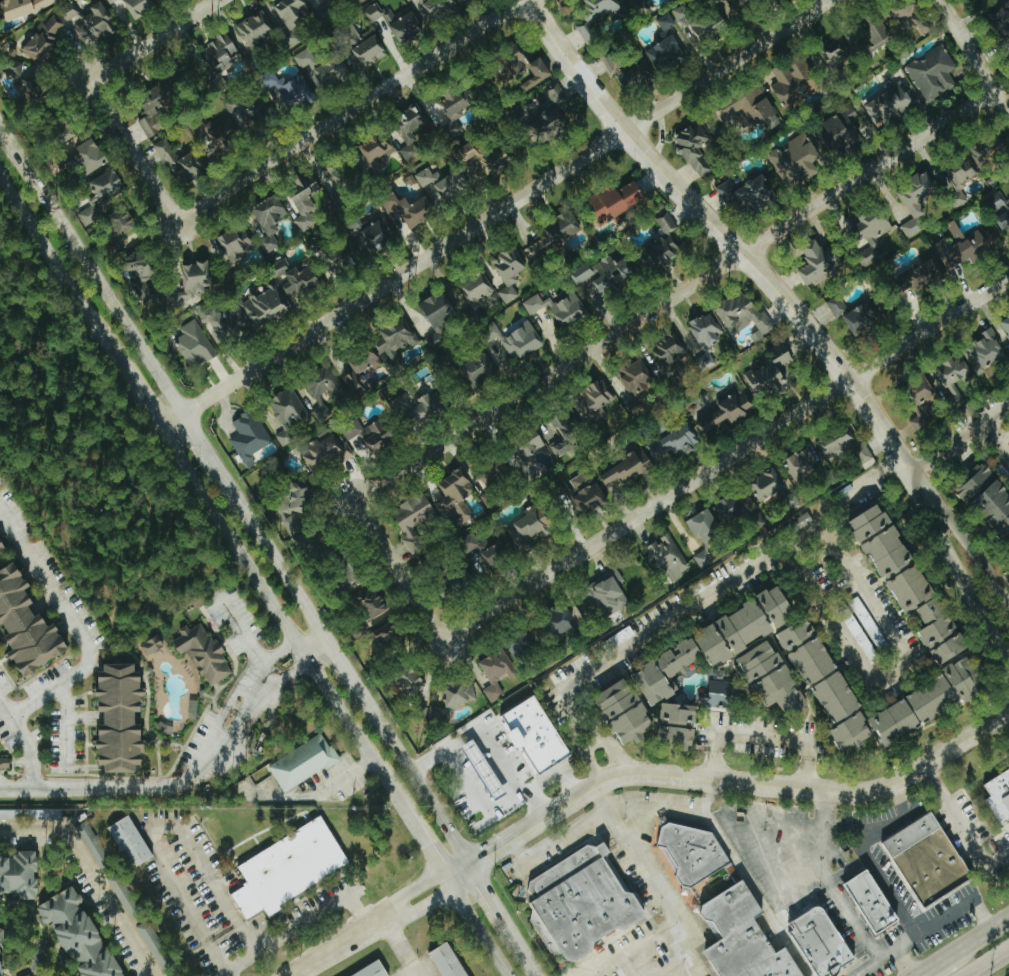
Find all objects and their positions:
building: (976, 0)
building: (110, 1)
building: (323, 1)
building: (463, 1)
building: (631, 2)
building: (741, 6)
building: (22, 7)
building: (138, 7)
building: (439, 7)
building: (292, 12)
building: (372, 12)
building: (681, 14)
building: (911, 16)
building: (388, 17)
building: (595, 17)
building: (1001, 18)
building: (89, 22)
building: (410, 22)
building: (710, 25)
building: (254, 29)
building: (871, 35)
road: (152, 40)
building: (43, 41)
building: (367, 48)
building: (220, 51)
building: (666, 54)
building: (833, 54)
road: (974, 55)
building: (305, 59)
building: (626, 70)
building: (525, 71)
building: (330, 72)
building: (932, 74)
building: (795, 82)
building: (34, 88)
building: (285, 91)
building: (550, 98)
building: (893, 103)
building: (158, 104)
building: (247, 109)
building: (455, 109)
building: (750, 109)
road: (350, 110)
building: (548, 128)
building: (201, 129)
building: (842, 129)
building: (410, 130)
building: (222, 137)
building: (694, 147)
building: (374, 149)
road: (133, 151)
building: (987, 151)
building: (90, 155)
building: (485, 157)
building: (796, 159)
building: (178, 162)
building: (961, 170)
building: (343, 178)
building: (443, 183)
building: (107, 185)
building: (746, 195)
building: (617, 201)
building: (915, 203)
building: (303, 205)
building: (409, 209)
building: (998, 210)
road: (496, 212)
building: (89, 215)
building: (270, 216)
building: (122, 222)
building: (376, 231)
building: (872, 233)
building: (555, 237)
road: (733, 243)
building: (236, 245)
building: (964, 246)
building: (662, 247)
building: (332, 255)
road: (59, 263)
building: (138, 265)
building: (821, 266)
road: (90, 270)
building: (508, 272)
building: (583, 273)
building: (613, 274)
building: (921, 276)
building: (196, 277)
building: (480, 291)
building: (151, 295)
road: (675, 296)
building: (837, 307)
building: (558, 309)
building: (743, 315)
building: (438, 318)
building: (861, 318)
building: (225, 322)
building: (1006, 325)
building: (705, 332)
building: (520, 341)
building: (393, 344)
building: (194, 346)
building: (985, 351)
building: (669, 356)
building: (362, 371)
building: (478, 372)
building: (770, 372)
building: (953, 379)
building: (636, 386)
road: (141, 390)
building: (323, 391)
building: (594, 400)
building: (928, 402)
building: (423, 407)
building: (727, 412)
building: (287, 413)
building: (917, 422)
road: (971, 432)
building: (566, 435)
building: (248, 437)
building: (365, 437)
building: (835, 441)
road: (995, 442)
building: (675, 443)
building: (528, 447)
road: (208, 454)
road: (726, 458)
building: (864, 459)
road: (891, 464)
road: (922, 464)
building: (802, 466)
building: (625, 470)
building: (492, 481)
building: (767, 484)
building: (587, 491)
building: (988, 493)
building: (455, 497)
building: (729, 508)
building: (294, 511)
building: (802, 519)
building: (413, 522)
building: (530, 525)
building: (704, 525)
road: (969, 545)
building: (2, 546)
building: (667, 557)
building: (702, 559)
road: (279, 567)
road: (398, 570)
road: (963, 579)
building: (909, 580)
road: (1003, 581)
building: (451, 586)
building: (606, 593)
road: (706, 596)
building: (370, 601)
road: (281, 613)
building: (560, 620)
building: (28, 622)
building: (390, 635)
building: (718, 641)
building: (151, 645)
road: (314, 645)
building: (522, 646)
building: (203, 653)
road: (83, 656)
road: (254, 658)
road: (341, 664)
building: (496, 672)
road: (897, 674)
building: (774, 677)
building: (411, 679)
building: (957, 683)
building: (458, 693)
building: (719, 695)
road: (6, 709)
building: (193, 709)
building: (626, 711)
building: (122, 717)
building: (679, 721)
road: (67, 727)
building: (536, 735)
road: (764, 737)
building: (0, 740)
road: (487, 742)
building: (302, 762)
building: (4, 763)
building: (484, 769)
road: (641, 778)
road: (414, 779)
road: (158, 787)
road: (318, 791)
building: (1000, 795)
road: (661, 806)
road: (768, 823)
road: (174, 825)
road: (963, 828)
building: (130, 841)
road: (428, 841)
building: (93, 846)
road: (559, 848)
road: (637, 855)
building: (928, 858)
building: (289, 868)
building: (19, 874)
road: (94, 874)
road: (750, 881)
road: (885, 881)
road: (827, 882)
building: (122, 894)
road: (323, 895)
road: (16, 901)
building: (873, 901)
building: (579, 902)
building: (722, 904)
road: (497, 908)
road: (32, 911)
road: (483, 928)
road: (926, 928)
building: (77, 935)
building: (2, 938)
building: (818, 942)
building: (154, 945)
road: (962, 946)
road: (636, 950)
road: (406, 952)
road: (649, 960)
road: (961, 960)
building: (444, 961)
road: (906, 961)
road: (531, 962)
road: (987, 962)
building: (0, 967)
building: (371, 970)
road: (421, 973)
building: (28, 975)

